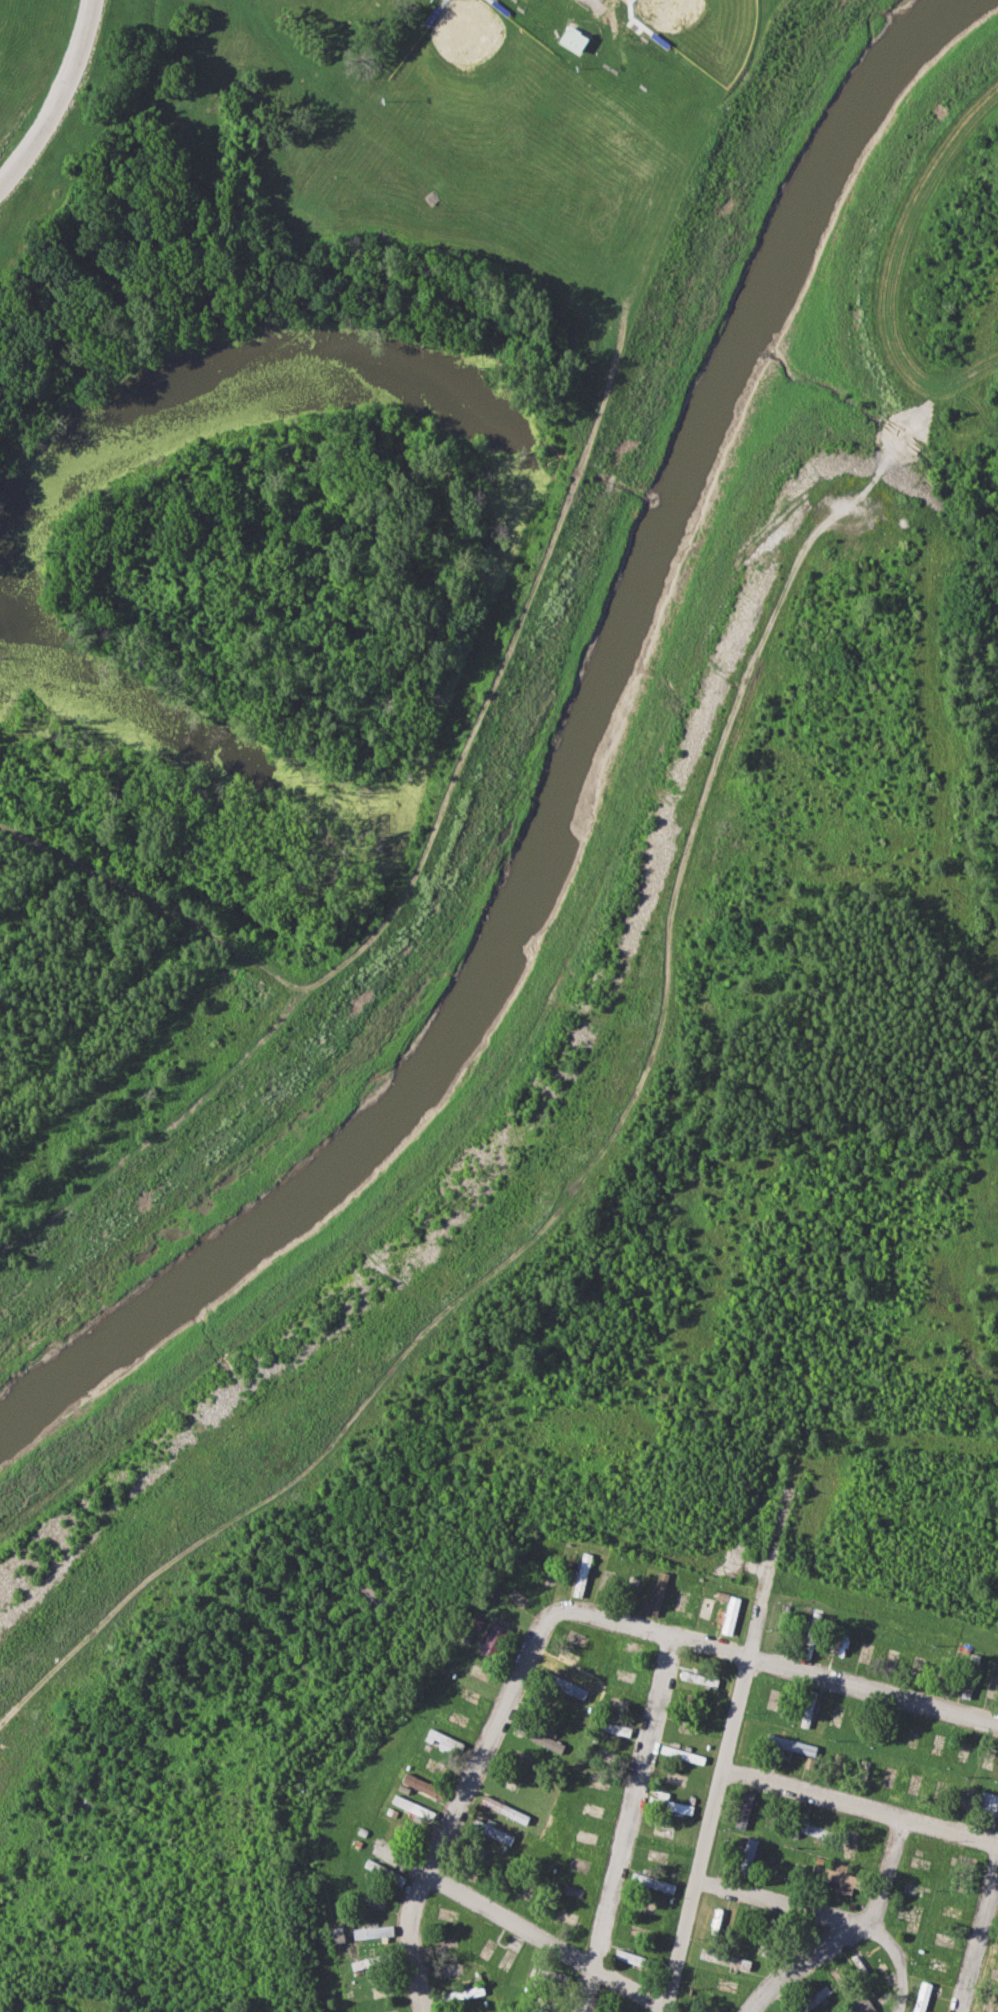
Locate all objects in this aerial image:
park: (705, 31)
building: (572, 39)
park: (471, 58)
road: (63, 101)
park: (320, 539)
river: (567, 785)
road: (510, 1060)
road: (568, 1202)
building: (580, 1575)
building: (656, 1593)
building: (729, 1614)
building: (810, 1633)
building: (698, 1677)
building: (565, 1685)
road: (873, 1692)
building: (806, 1712)
road: (503, 1718)
building: (613, 1727)
building: (438, 1737)
building: (790, 1744)
building: (418, 1785)
road: (718, 1786)
building: (988, 1803)
building: (410, 1805)
building: (678, 1806)
road: (860, 1807)
building: (743, 1809)
road: (628, 1824)
building: (812, 1829)
building: (490, 1830)
building: (383, 1848)
building: (747, 1855)
building: (836, 1877)
building: (652, 1882)
road: (780, 1901)
building: (372, 1931)
road: (848, 1933)
road: (977, 1936)
road: (548, 1941)
building: (628, 1957)
building: (724, 1957)
road: (898, 1960)
building: (463, 1993)
building: (921, 1996)
building: (811, 1999)
building: (860, 2006)

